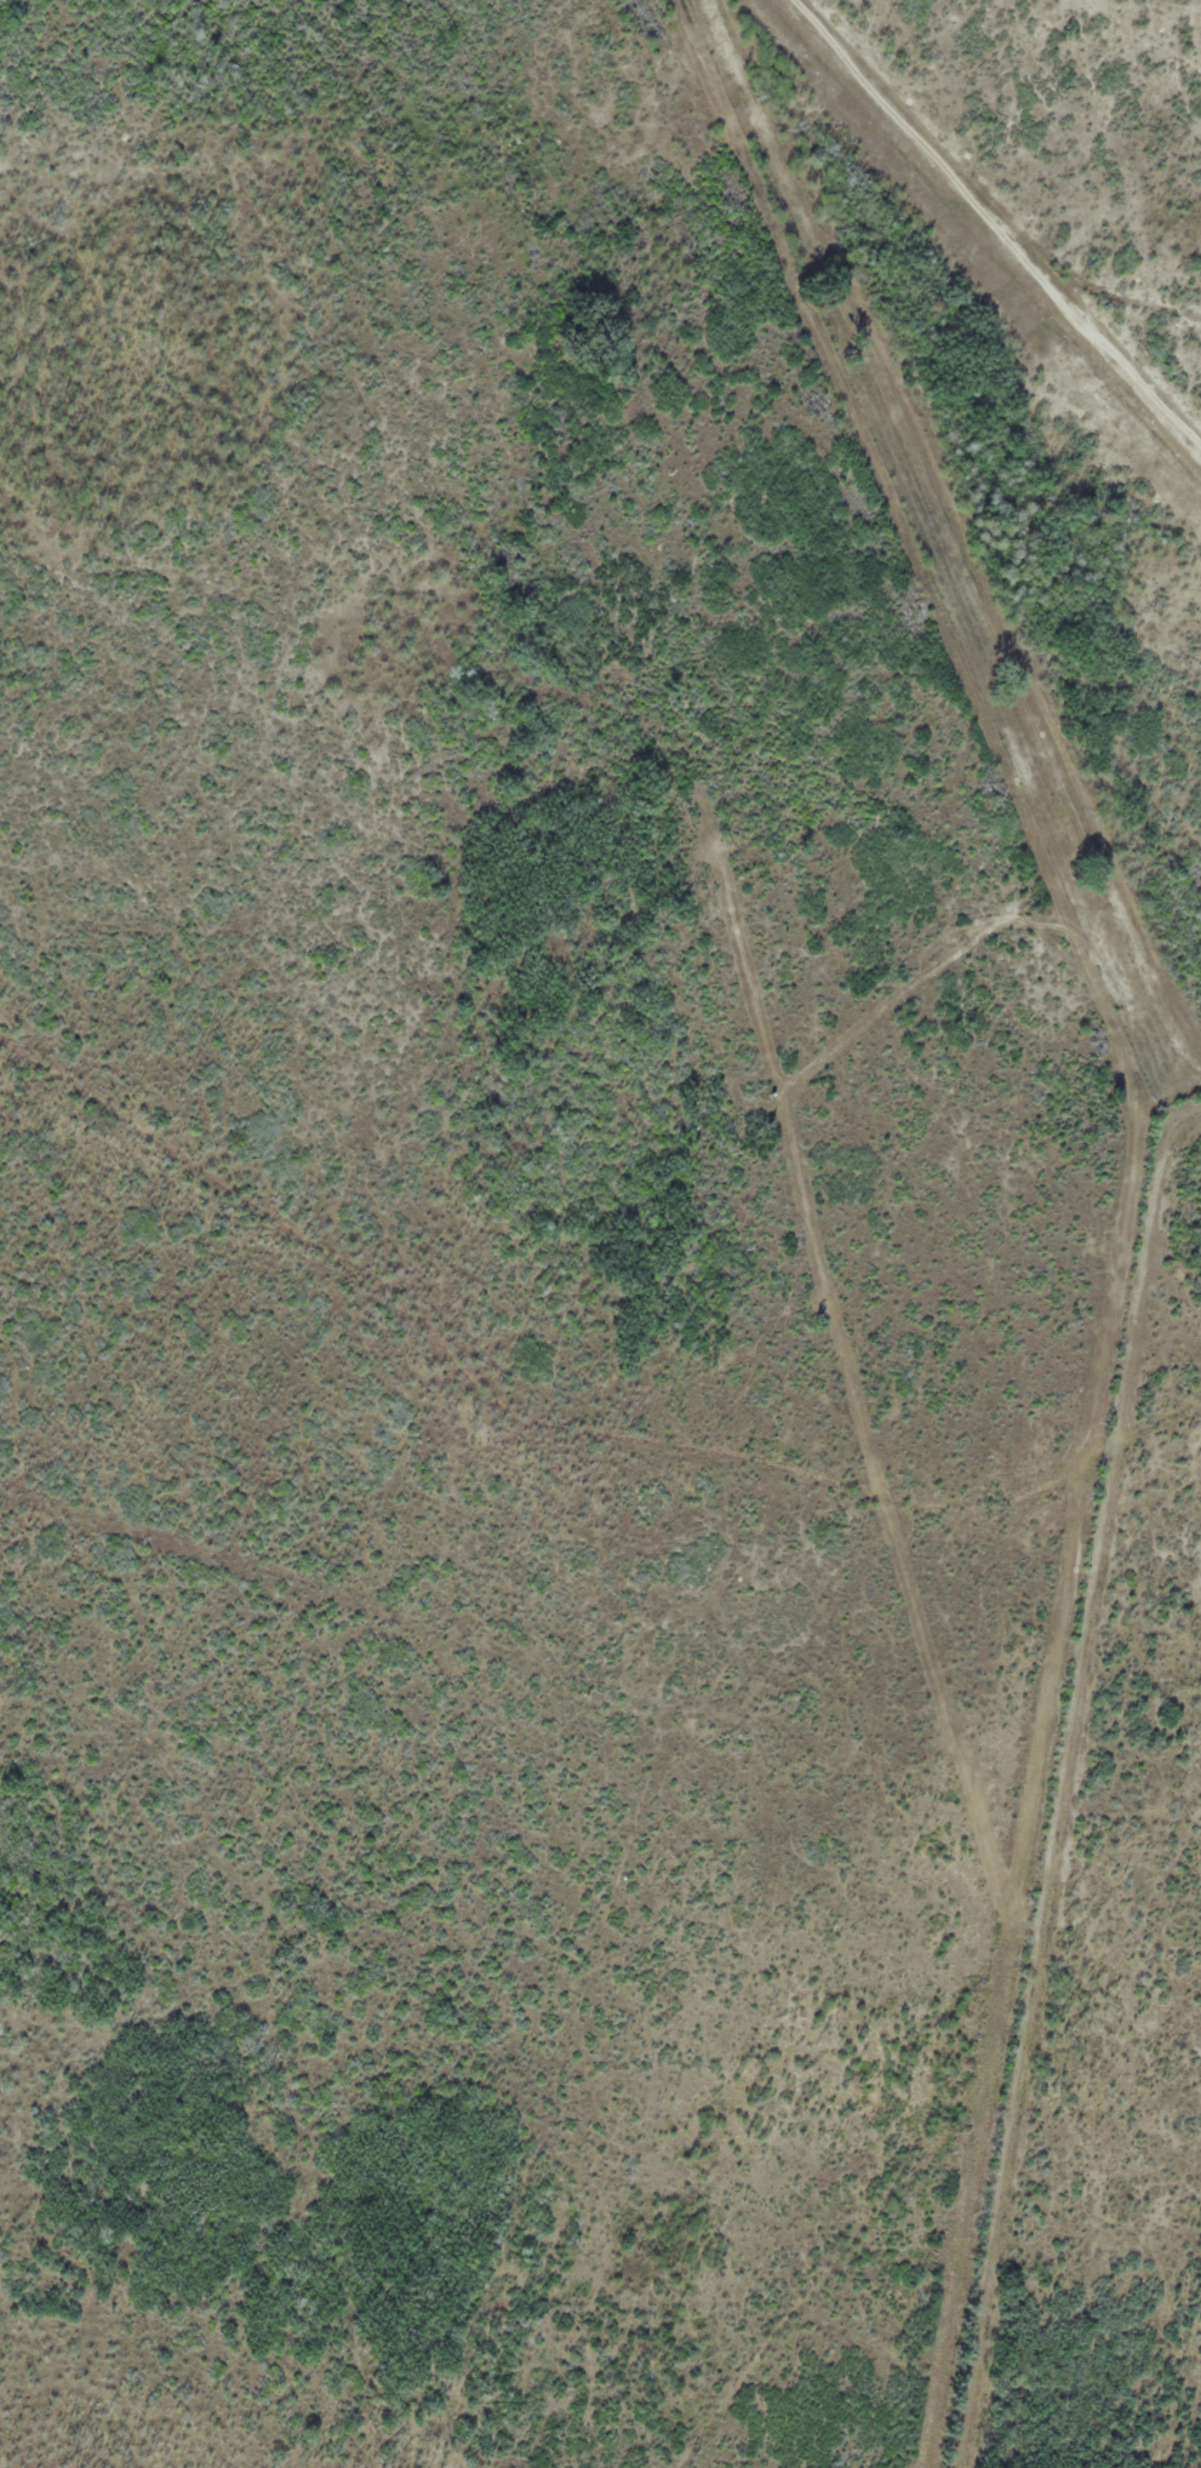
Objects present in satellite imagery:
road: (965, 496)

